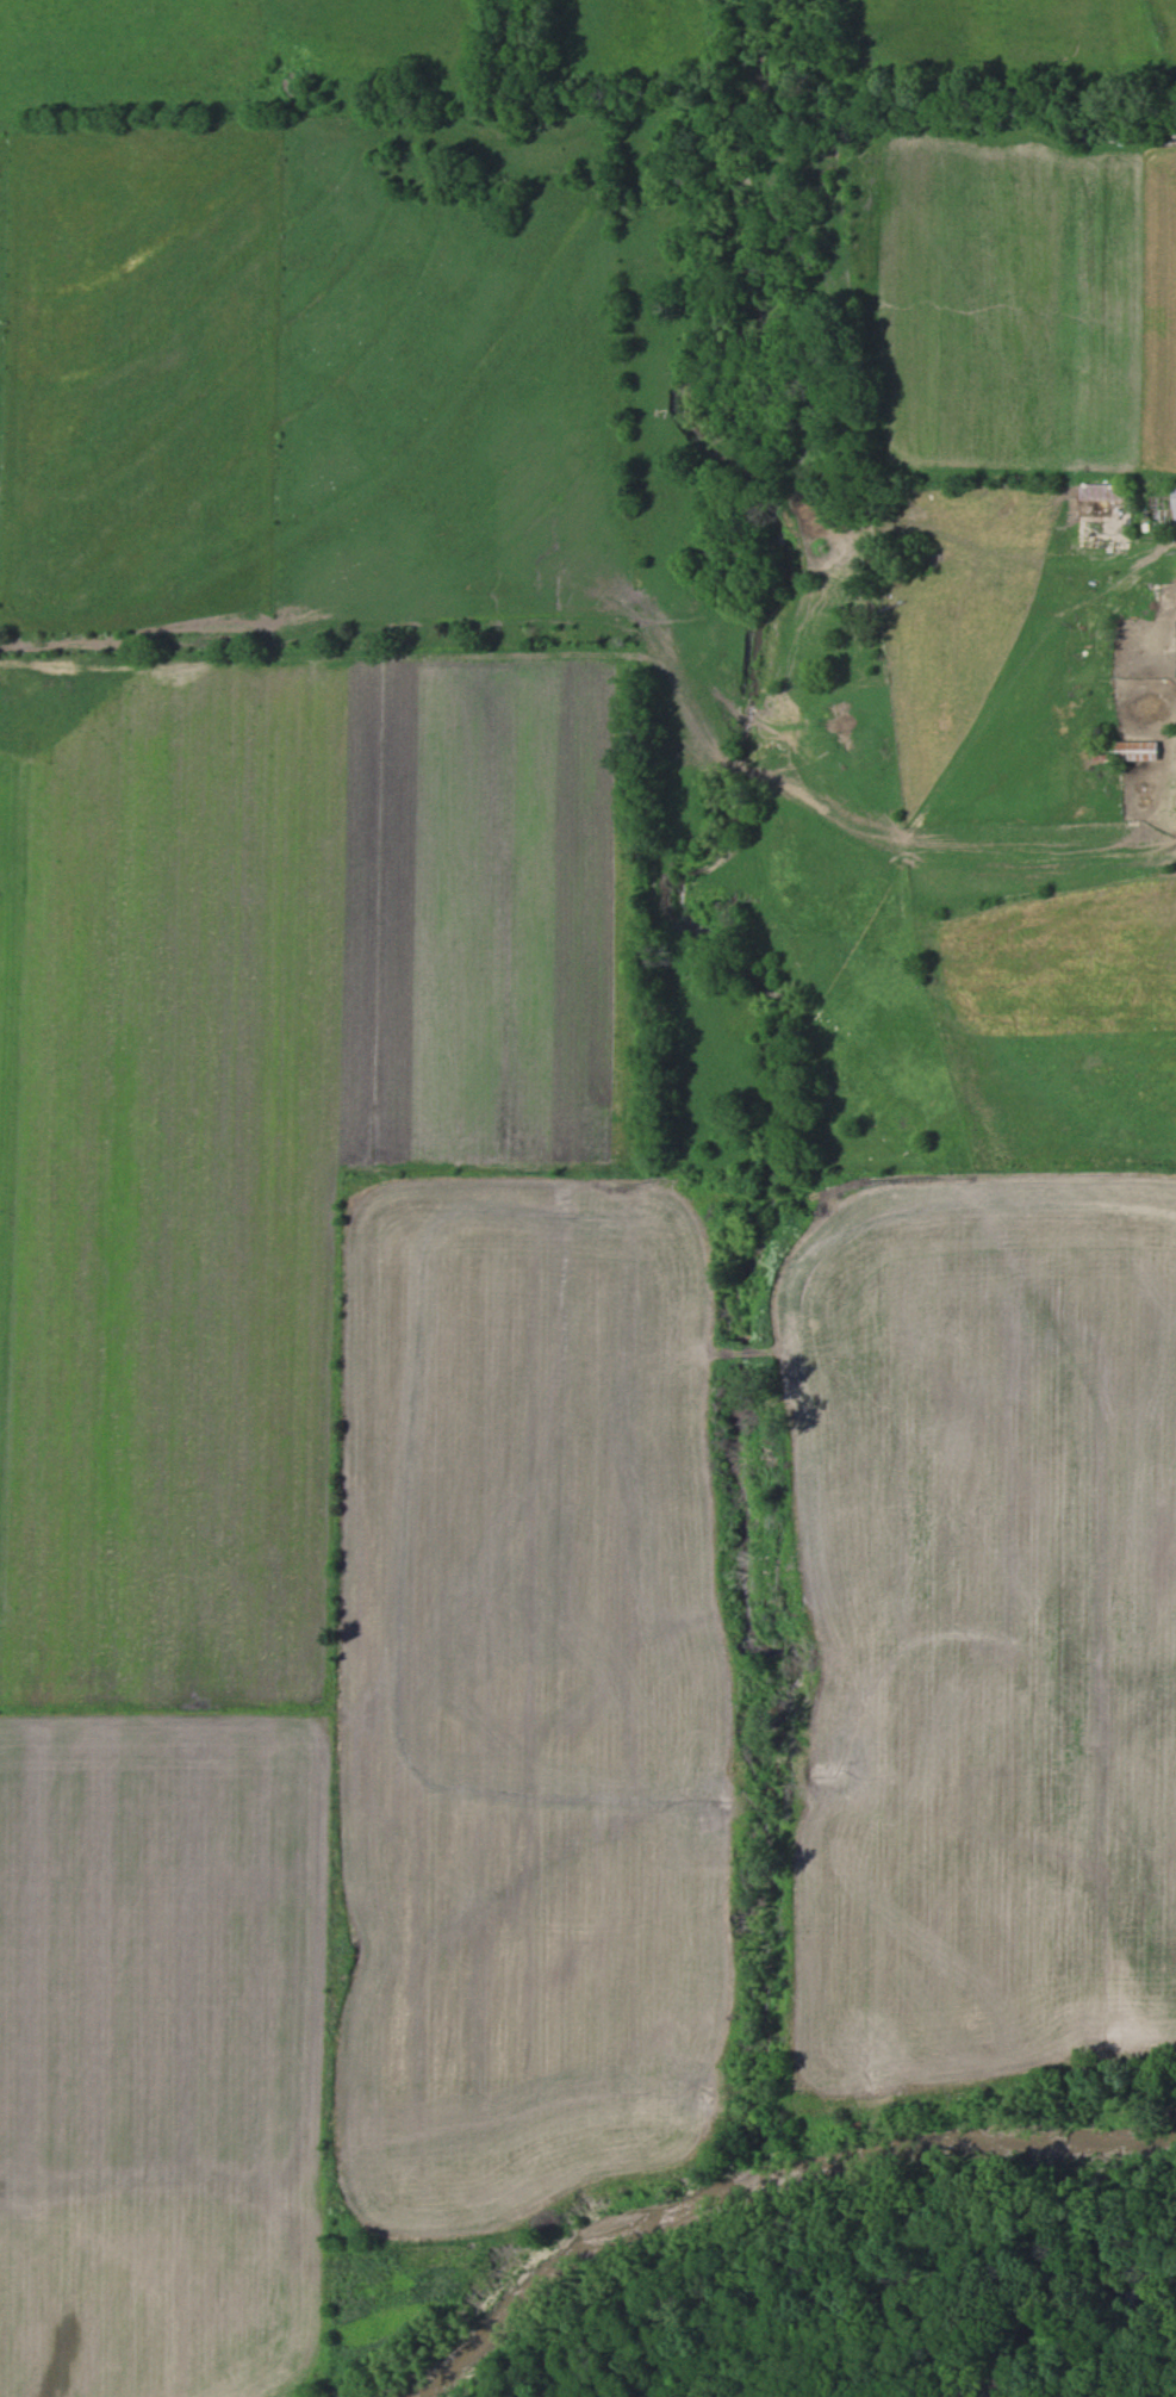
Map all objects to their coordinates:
building: (1170, 503)
building: (1119, 752)

